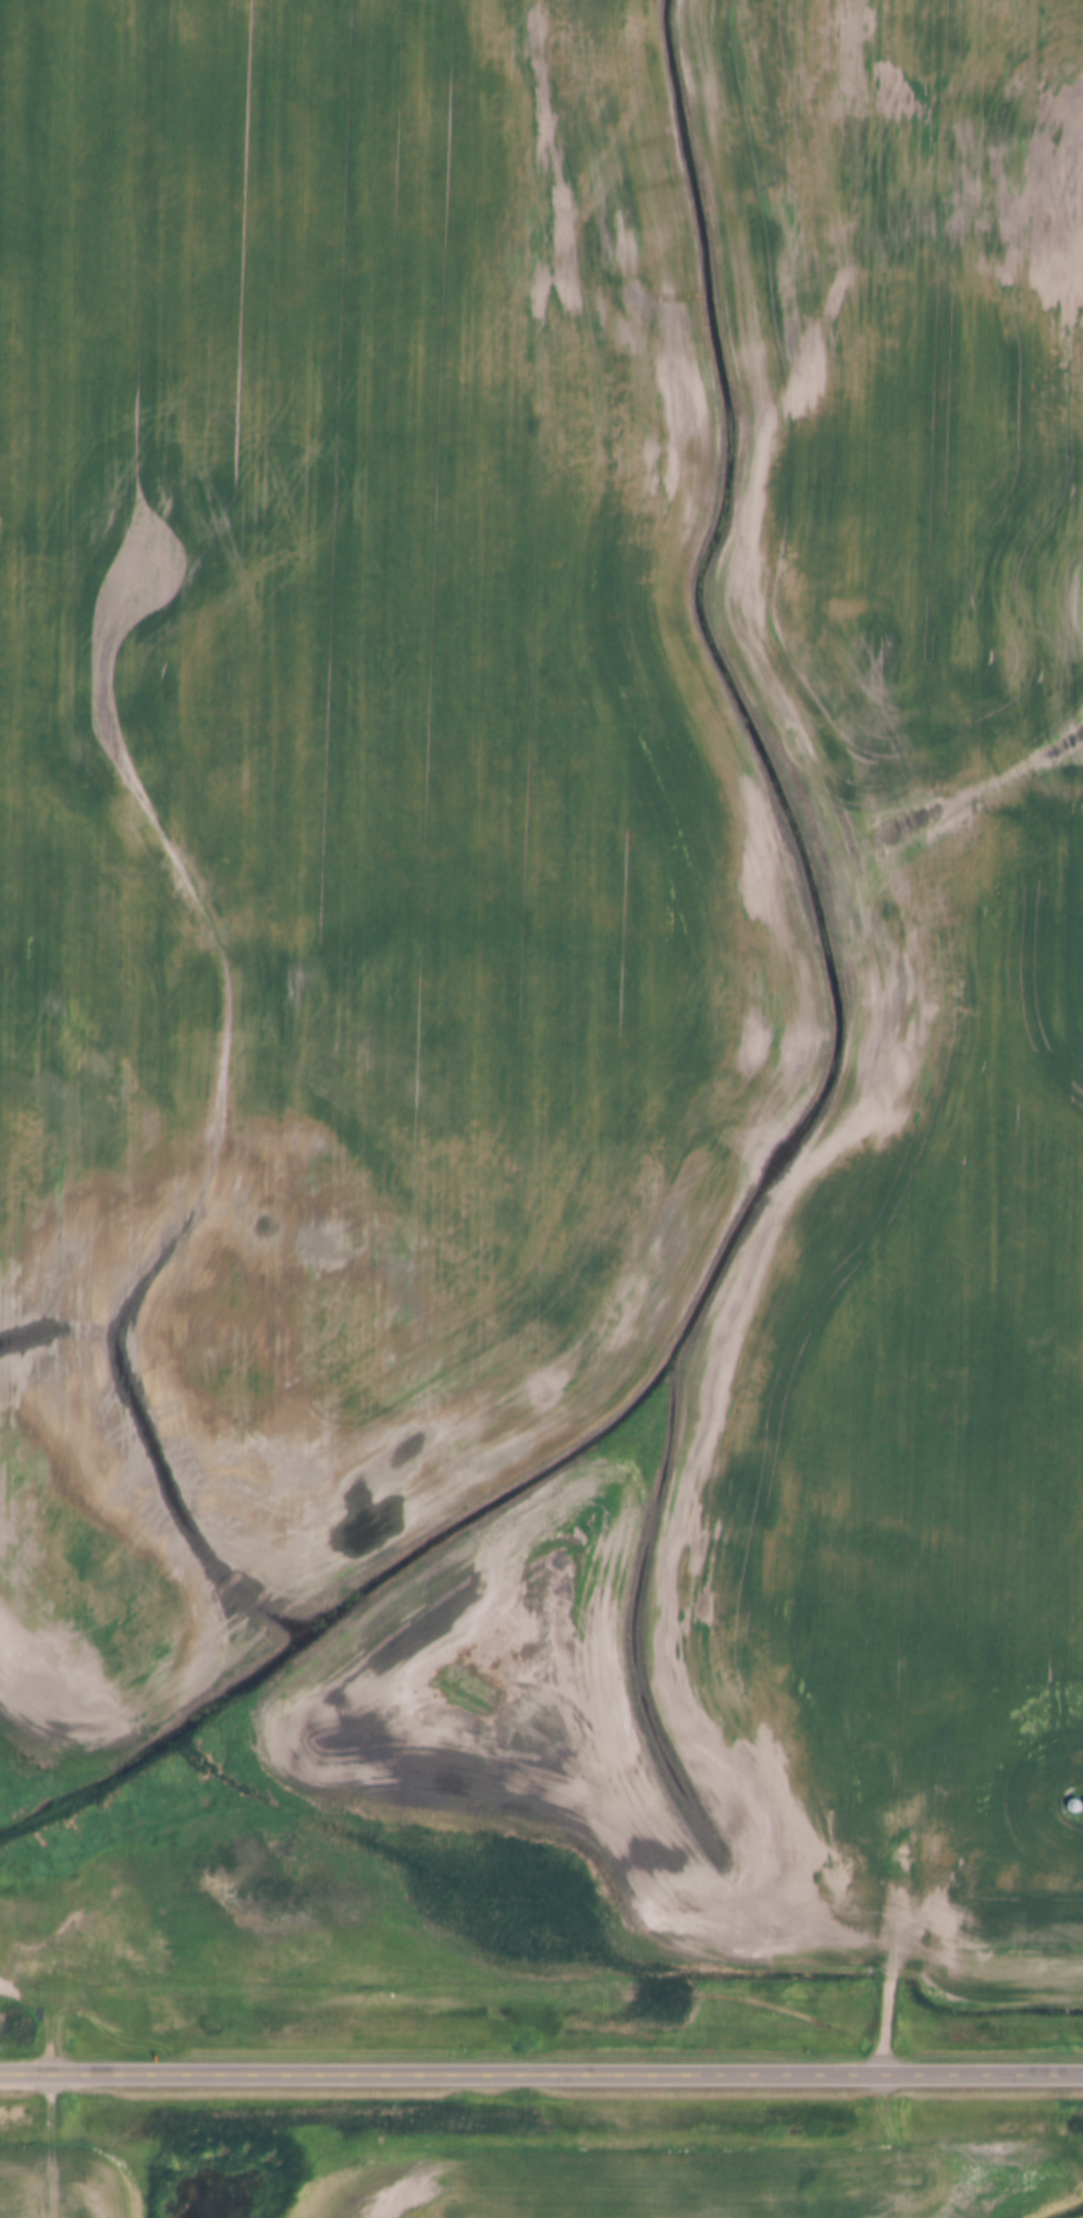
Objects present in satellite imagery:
road: (541, 2073)

